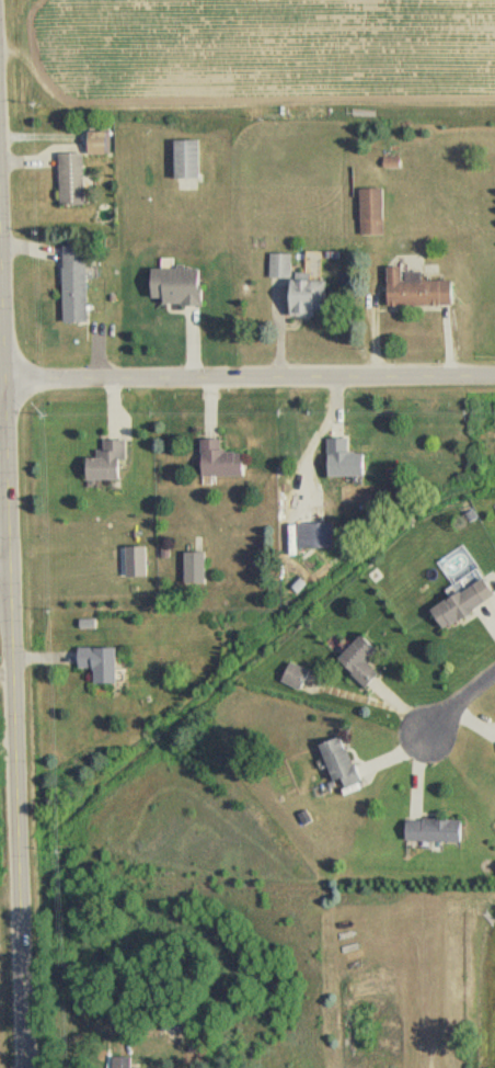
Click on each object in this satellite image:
building: (95, 141)
building: (186, 159)
building: (71, 180)
building: (371, 212)
building: (280, 265)
building: (74, 284)
building: (175, 285)
road: (1, 289)
building: (416, 289)
building: (307, 297)
road: (250, 376)
road: (3, 389)
building: (343, 458)
building: (219, 459)
building: (106, 462)
building: (314, 535)
road: (5, 560)
building: (136, 560)
building: (194, 567)
building: (462, 603)
road: (13, 618)
building: (359, 661)
building: (99, 663)
building: (295, 677)
road: (456, 706)
building: (338, 762)
building: (433, 830)
building: (174, 1022)
building: (122, 1061)

